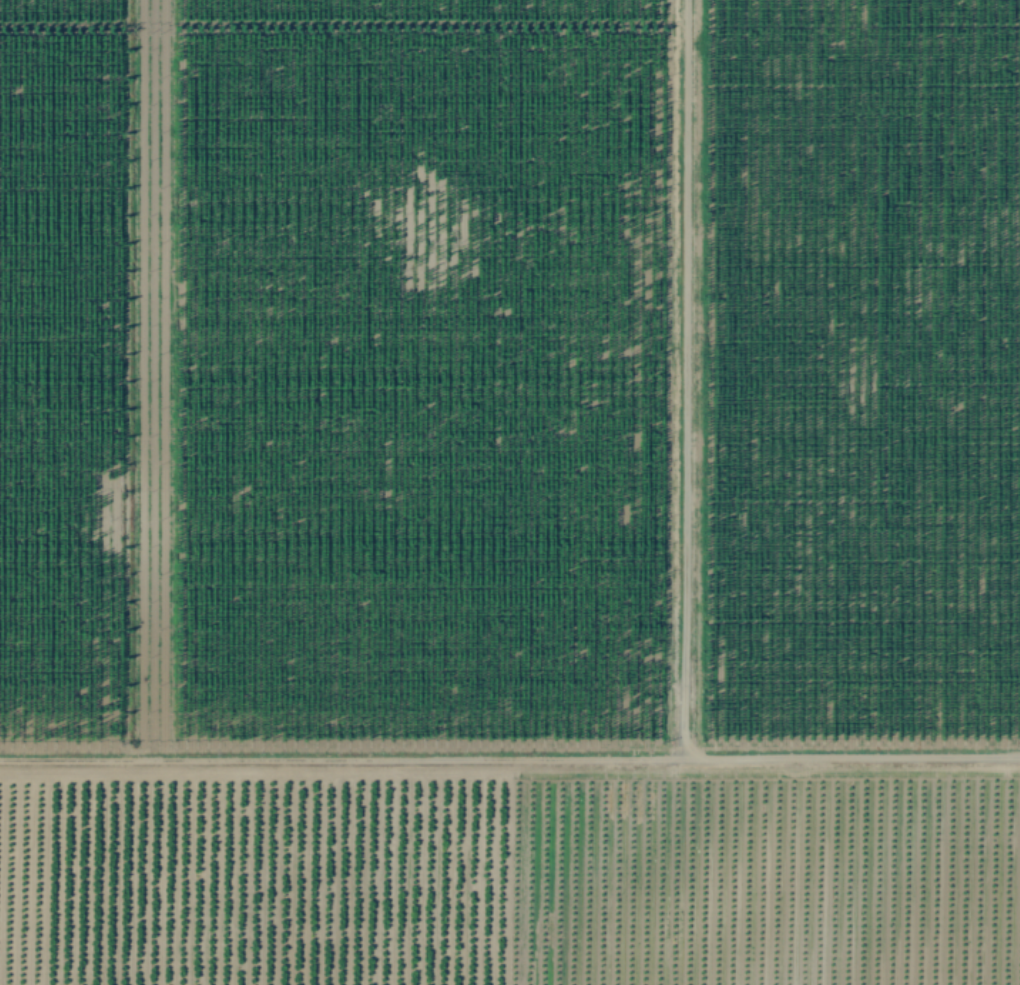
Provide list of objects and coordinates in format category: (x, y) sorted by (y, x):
crop: (513, 877)

